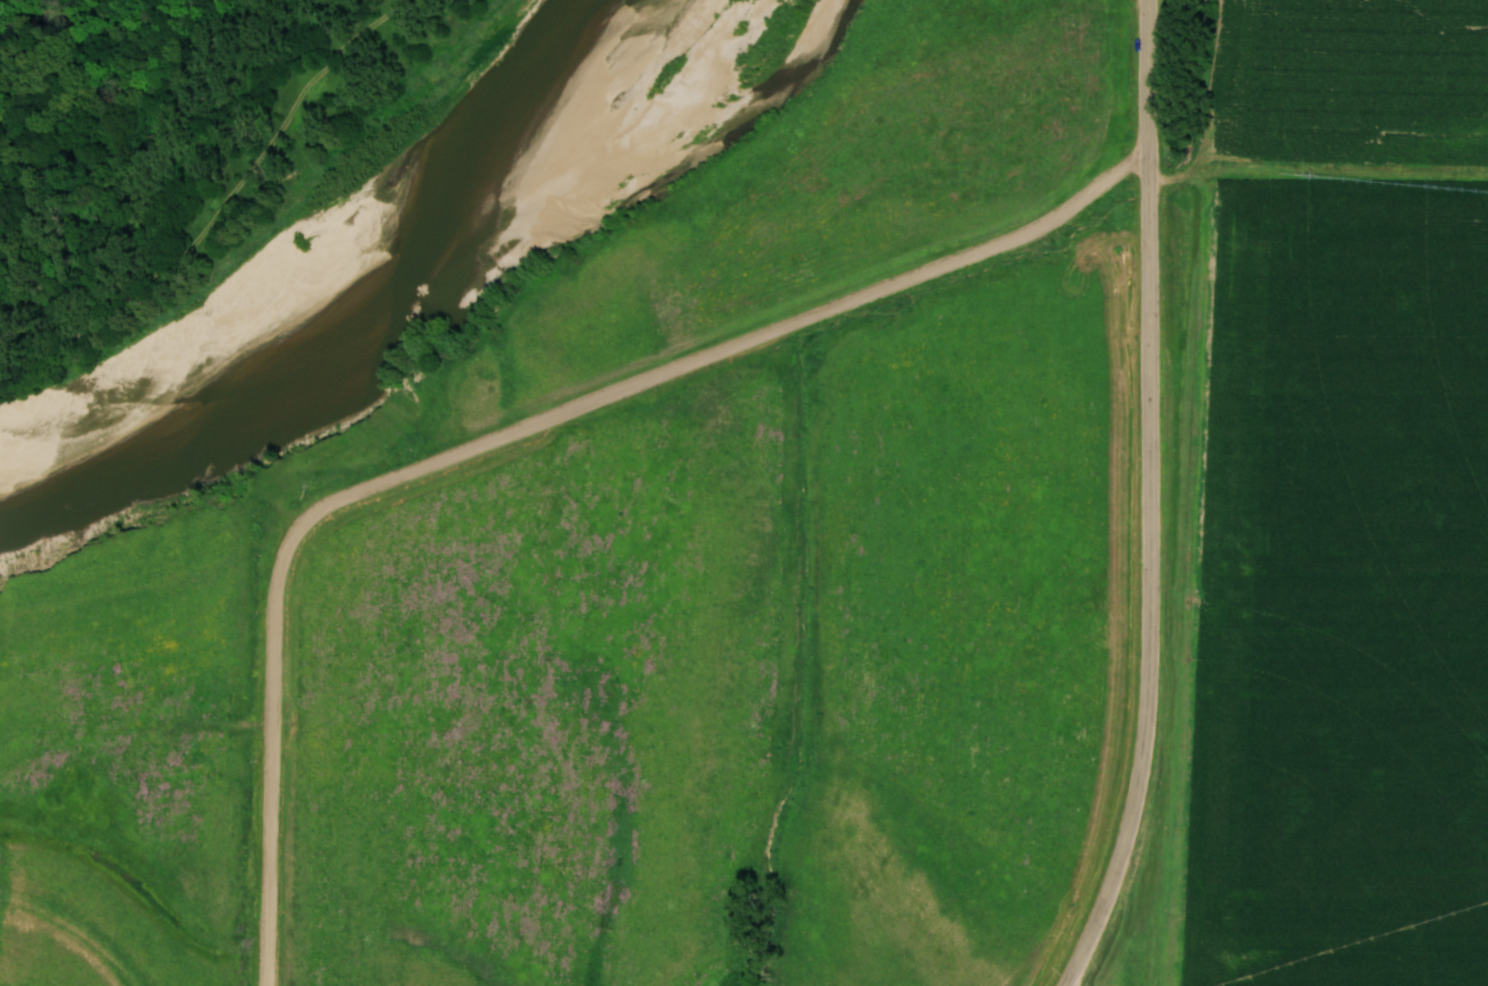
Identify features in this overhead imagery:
river: (383, 283)
road: (510, 430)
road: (1148, 499)

